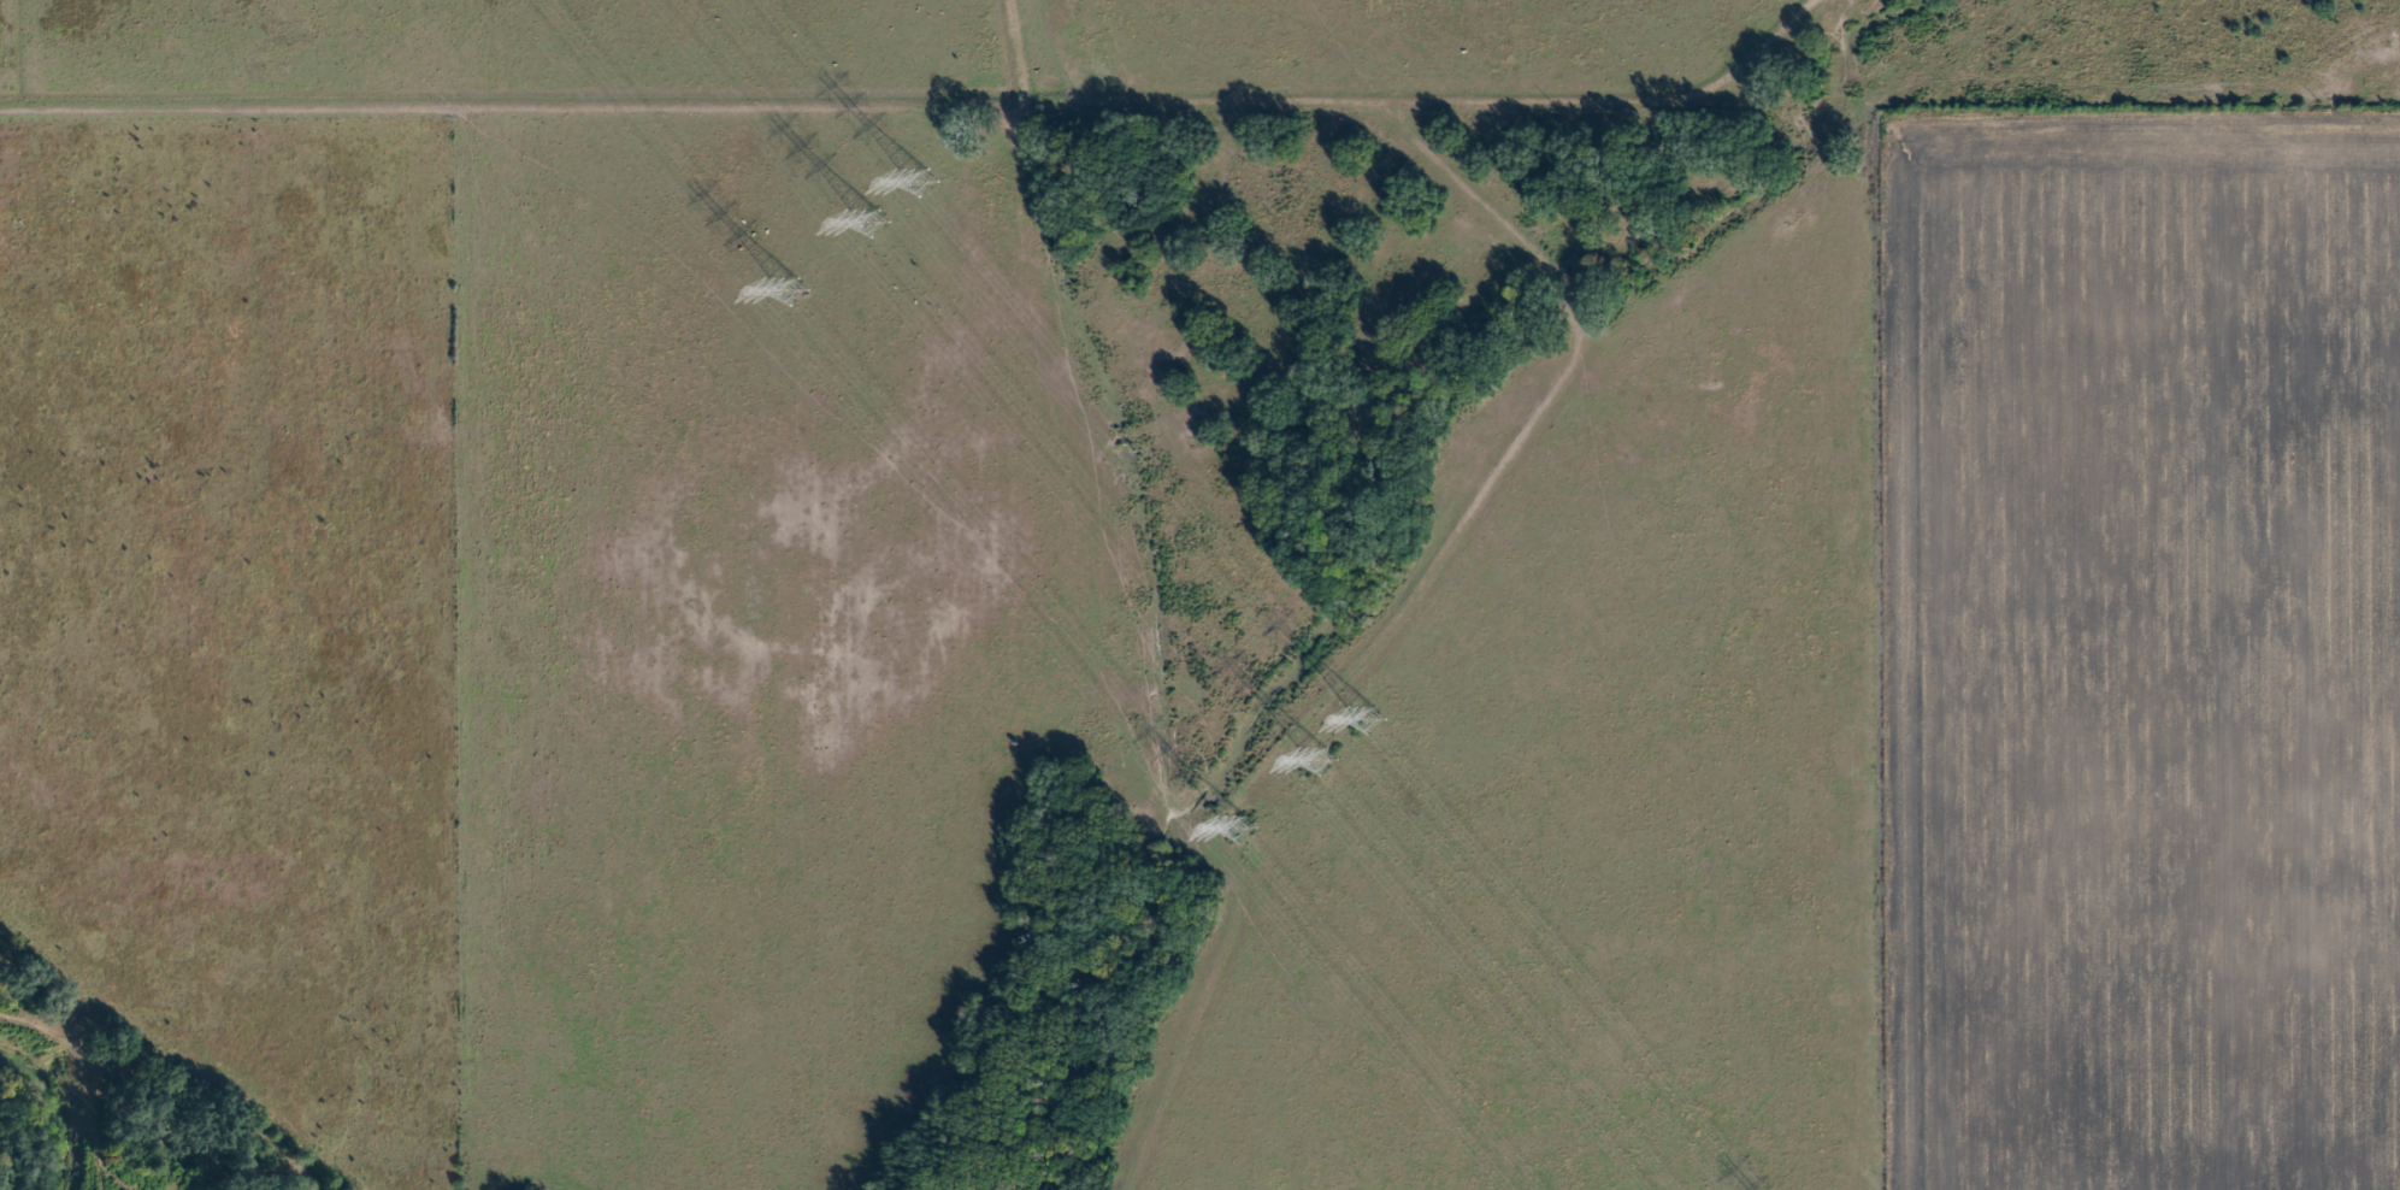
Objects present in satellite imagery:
power tower: (926, 181)
power tower: (872, 224)
power tower: (794, 291)
power tower: (1369, 718)
power tower: (1322, 761)
power tower: (1243, 832)

